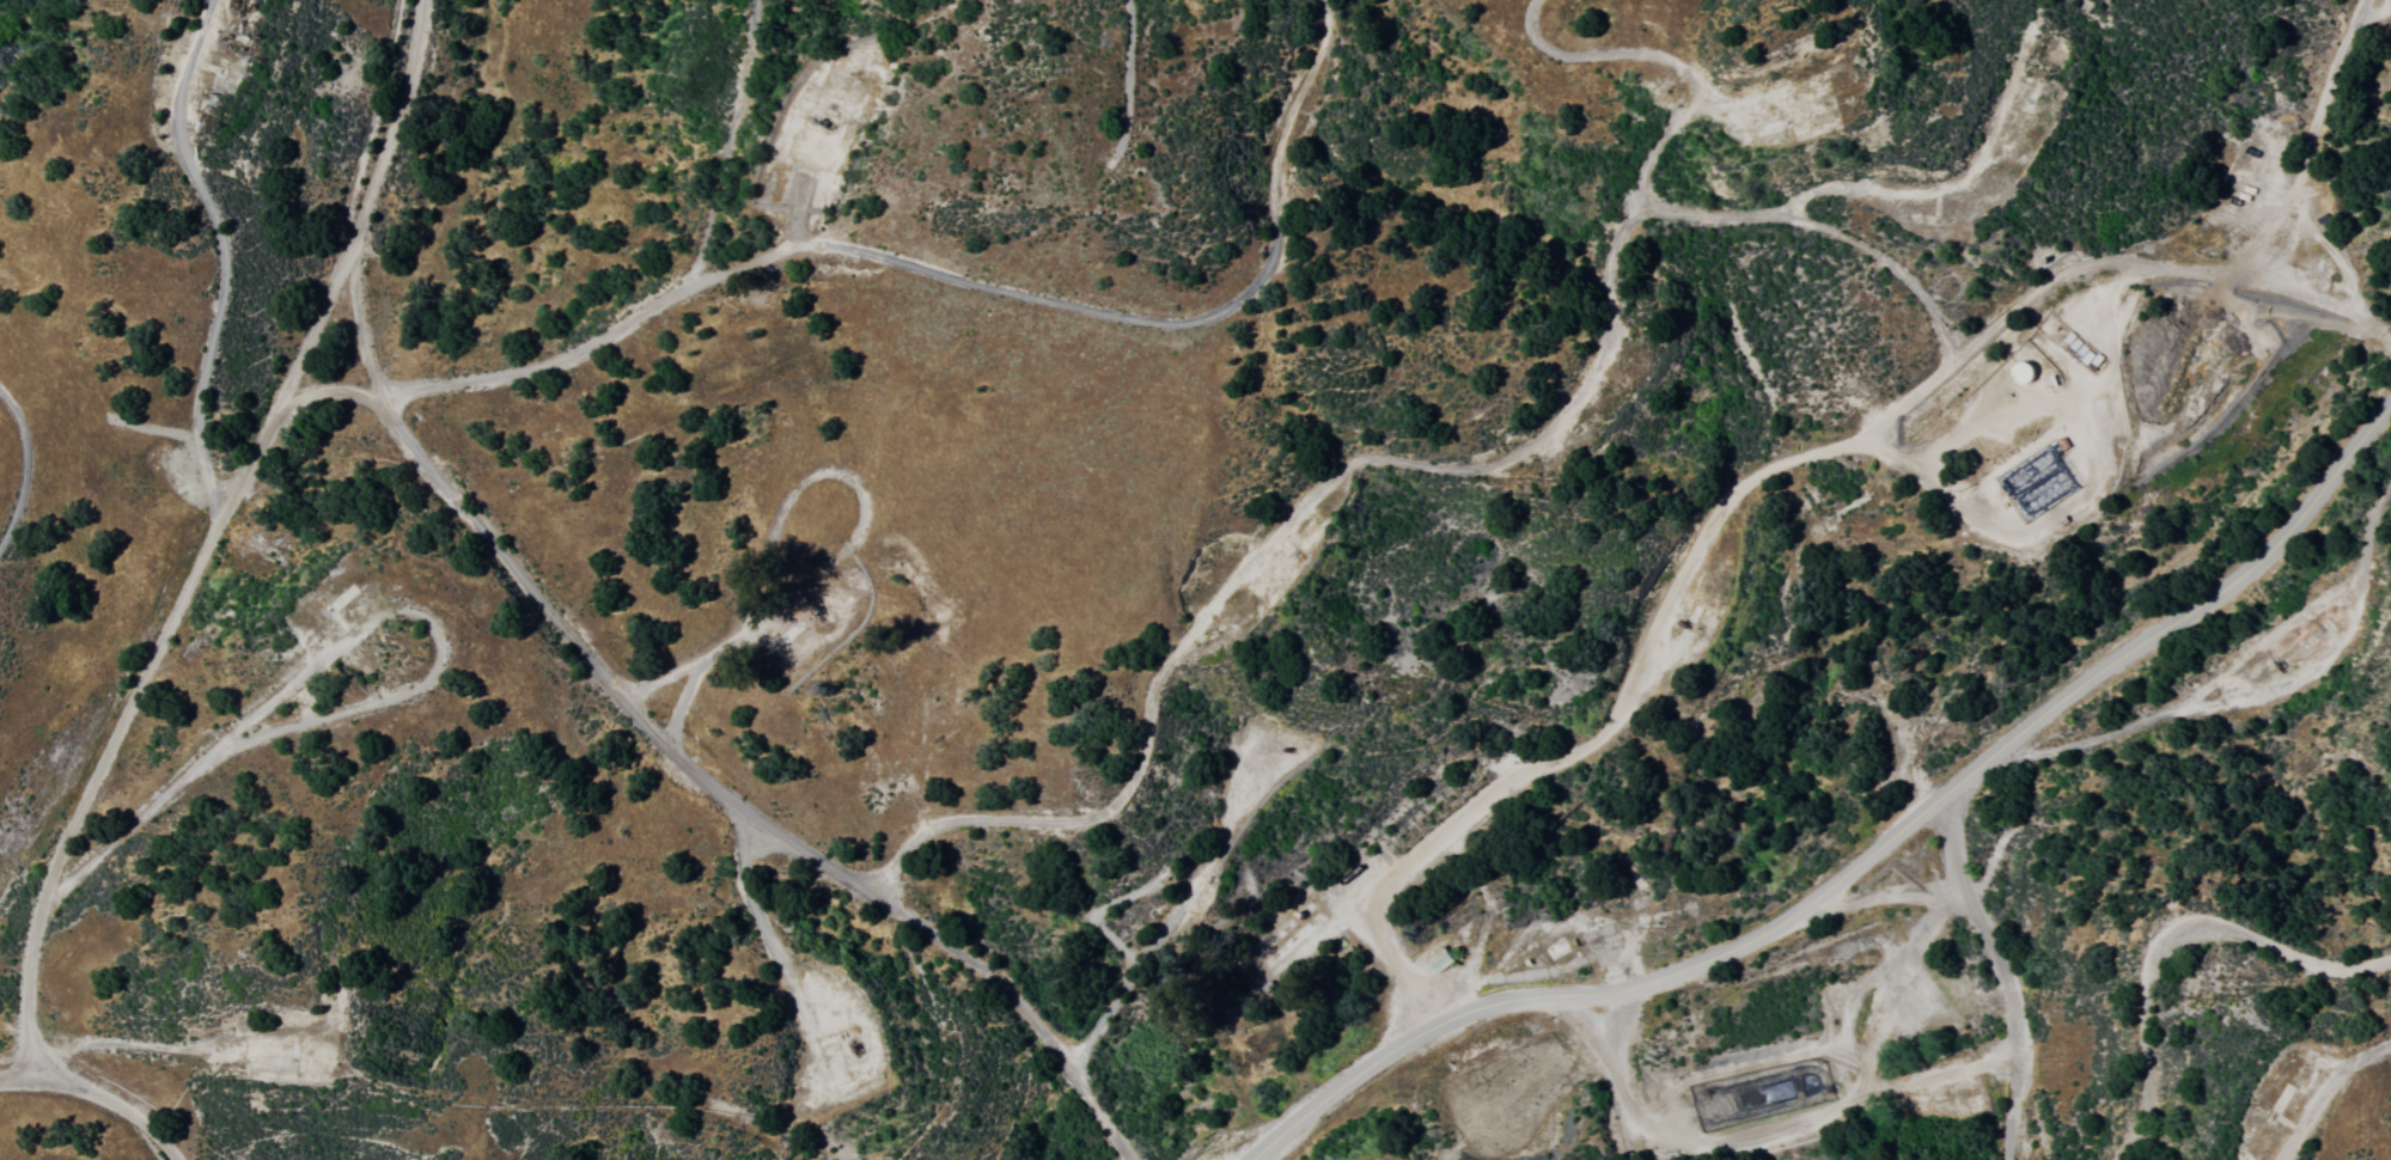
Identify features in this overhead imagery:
road: (2314, 178)
road: (222, 243)
road: (317, 319)
road: (1178, 323)
road: (275, 407)
road: (1893, 411)
road: (1389, 456)
road: (26, 470)
road: (367, 619)
road: (587, 660)
road: (2257, 690)
road: (123, 825)
road: (1948, 841)
road: (1864, 856)
road: (1995, 939)
road: (2173, 942)
building: (1438, 959)
road: (1404, 975)
road: (2328, 1091)
road: (99, 1097)

